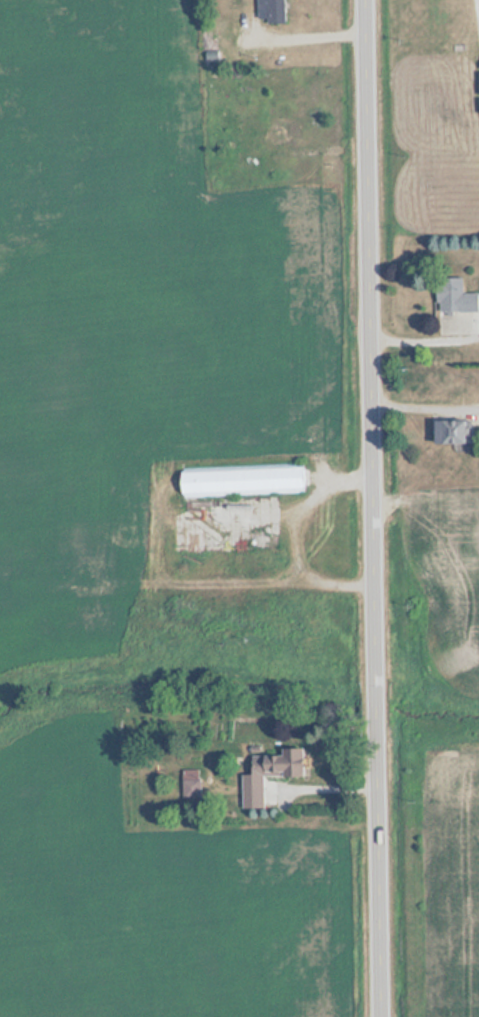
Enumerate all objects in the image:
building: (270, 10)
building: (454, 296)
building: (453, 431)
building: (241, 481)
road: (373, 508)
building: (212, 515)
building: (269, 773)
building: (190, 789)

